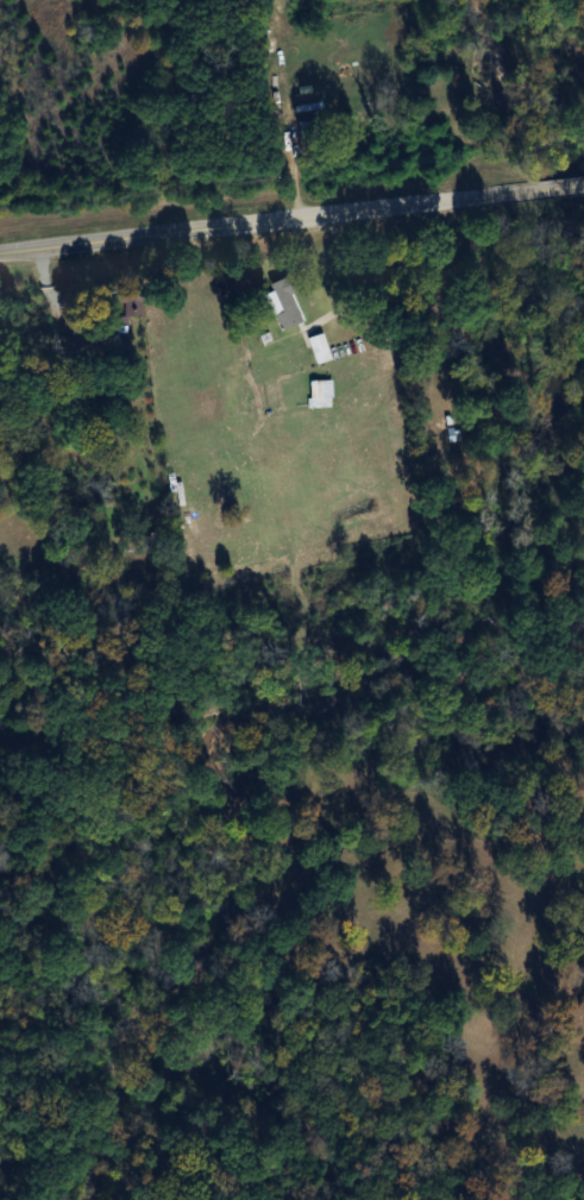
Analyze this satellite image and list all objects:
road: (291, 215)
building: (283, 309)
building: (316, 351)
building: (319, 394)

